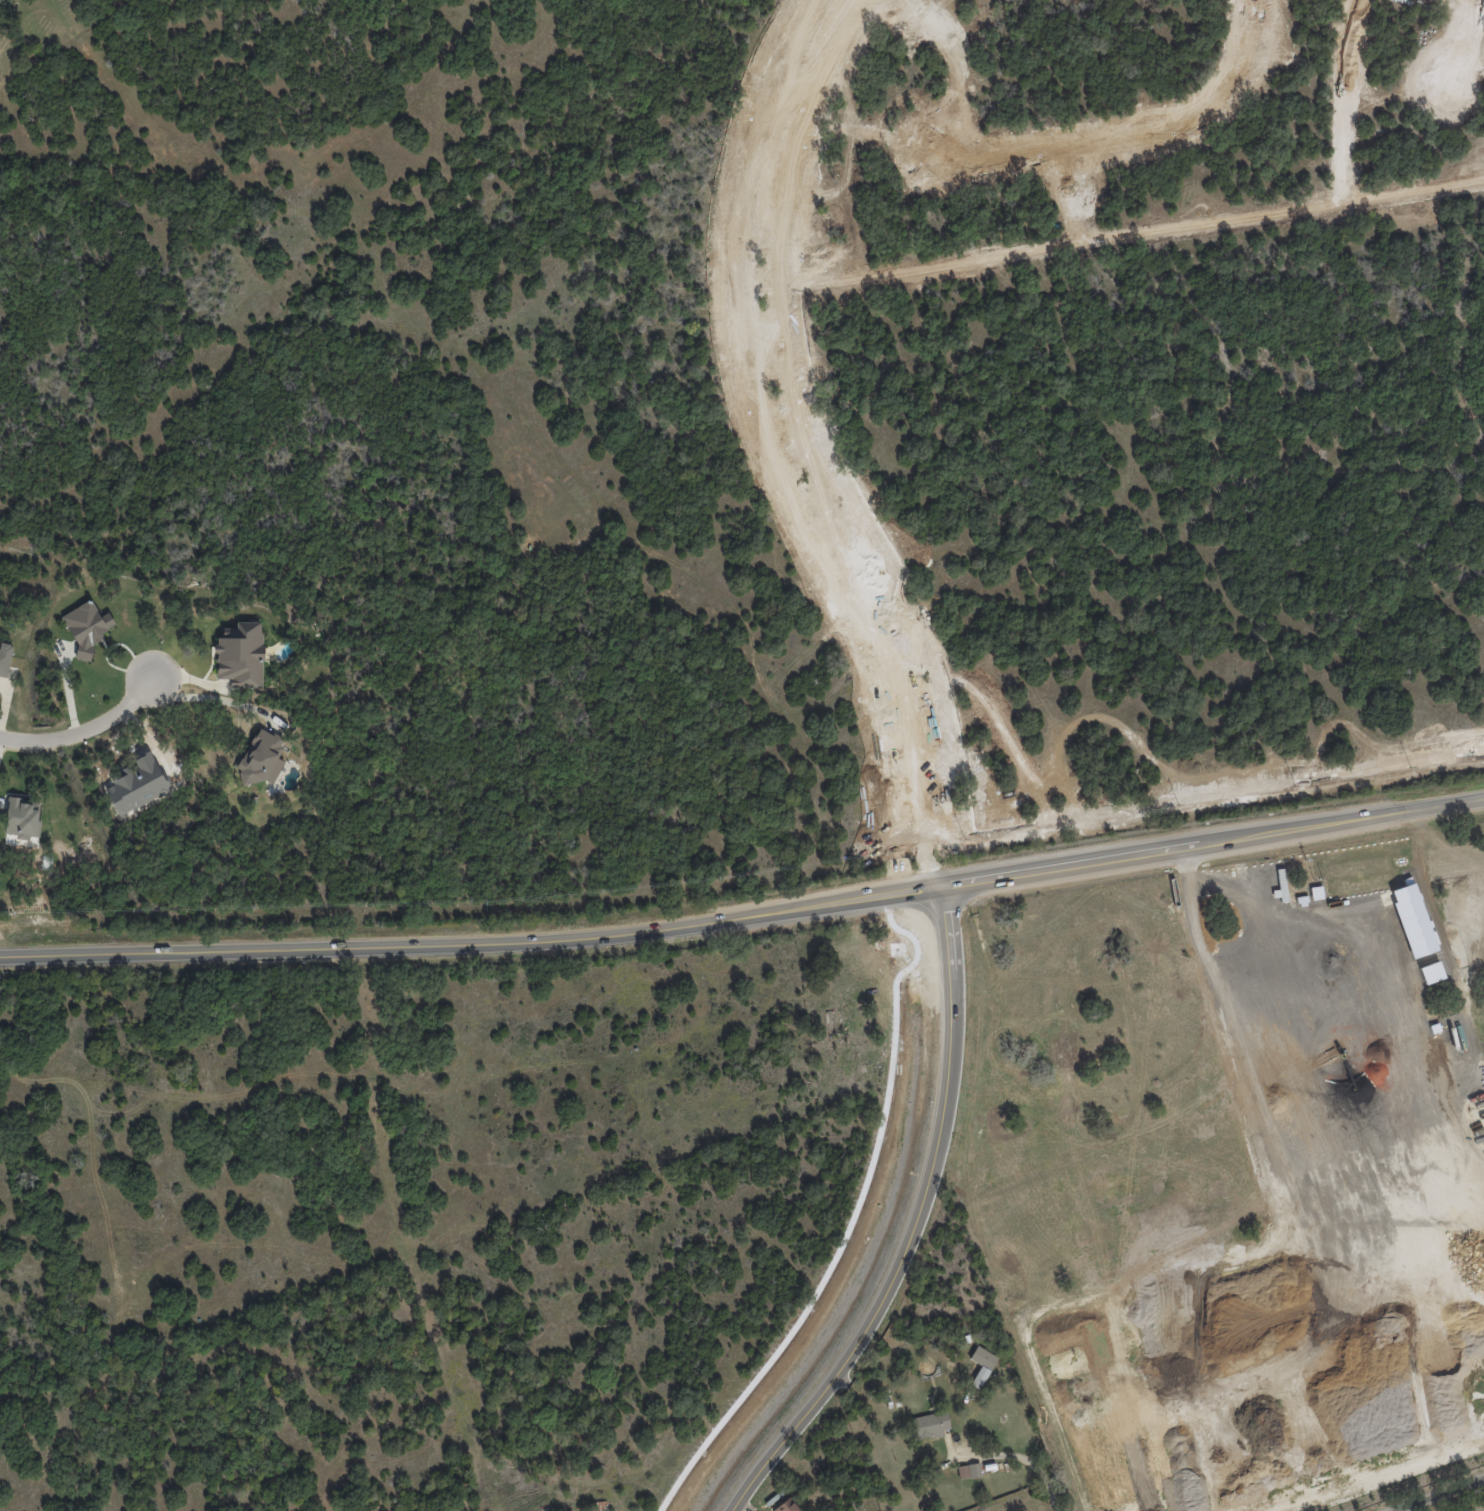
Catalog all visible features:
road: (1458, 42)
road: (1123, 129)
road: (814, 447)
road: (777, 453)
building: (87, 626)
building: (241, 654)
building: (5, 659)
road: (209, 697)
road: (82, 729)
building: (262, 758)
building: (23, 816)
road: (745, 918)
building: (1413, 920)
road: (1234, 966)
building: (1431, 973)
road: (912, 1223)
building: (982, 1365)
building: (892, 1404)
building: (930, 1424)
road: (1011, 1455)
building: (969, 1471)
road: (1440, 1494)
building: (604, 1505)
building: (685, 1505)
building: (789, 1506)
road: (1405, 1509)

